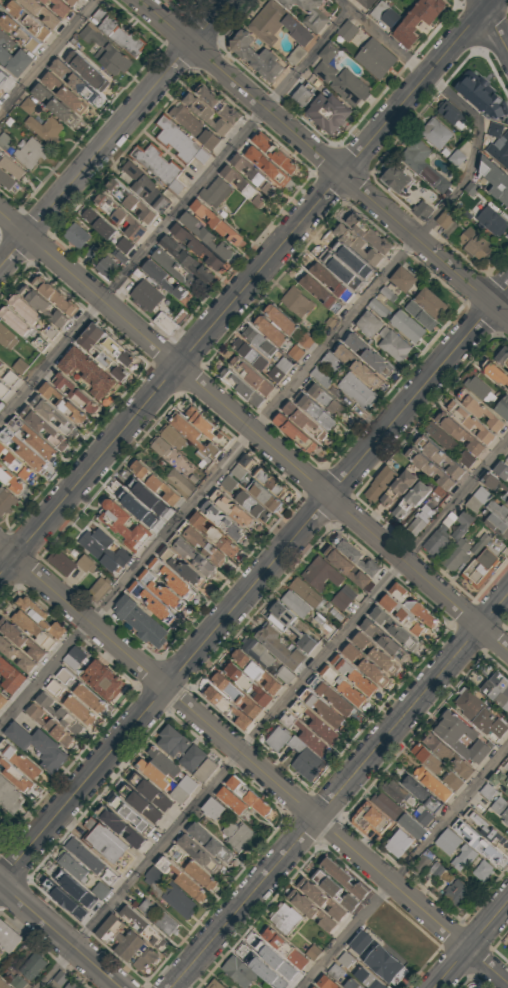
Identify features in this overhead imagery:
building: (180, 0)
building: (181, 0)
building: (71, 2)
building: (366, 3)
building: (58, 7)
building: (309, 12)
building: (42, 13)
building: (386, 14)
building: (26, 20)
building: (419, 20)
road: (496, 23)
building: (277, 25)
building: (348, 30)
building: (17, 33)
building: (117, 33)
building: (6, 41)
building: (104, 51)
building: (297, 54)
road: (49, 57)
building: (254, 58)
building: (376, 58)
building: (15, 61)
road: (410, 61)
building: (86, 71)
building: (339, 78)
building: (73, 81)
building: (63, 93)
building: (302, 96)
building: (480, 96)
building: (53, 104)
building: (217, 104)
building: (29, 105)
building: (328, 112)
building: (205, 114)
building: (452, 115)
building: (45, 127)
building: (193, 127)
building: (436, 133)
road: (115, 134)
building: (499, 135)
building: (178, 142)
building: (31, 152)
building: (274, 153)
building: (458, 157)
road: (324, 158)
building: (422, 165)
building: (266, 166)
building: (158, 167)
building: (132, 170)
building: (8, 172)
building: (253, 175)
building: (395, 179)
building: (494, 180)
building: (242, 187)
building: (214, 192)
building: (151, 194)
building: (129, 200)
building: (421, 210)
road: (174, 215)
building: (119, 217)
building: (493, 220)
building: (98, 222)
building: (215, 222)
building: (446, 222)
building: (370, 233)
building: (77, 235)
building: (203, 235)
building: (359, 244)
building: (473, 244)
building: (125, 245)
building: (197, 247)
building: (335, 251)
building: (185, 260)
building: (107, 266)
building: (174, 268)
building: (160, 279)
building: (401, 279)
building: (355, 280)
building: (332, 281)
road: (245, 288)
building: (322, 293)
building: (388, 293)
building: (53, 296)
building: (145, 296)
building: (298, 301)
building: (430, 303)
building: (42, 306)
building: (380, 306)
building: (25, 308)
building: (421, 315)
building: (281, 319)
building: (17, 321)
building: (164, 322)
building: (408, 326)
building: (271, 330)
building: (383, 336)
building: (7, 337)
building: (259, 340)
building: (306, 340)
building: (109, 344)
building: (250, 353)
building: (368, 355)
building: (103, 358)
building: (502, 359)
building: (330, 363)
building: (1, 364)
building: (21, 366)
building: (357, 366)
building: (281, 368)
building: (87, 373)
building: (494, 373)
building: (252, 374)
building: (320, 377)
building: (8, 382)
building: (242, 386)
building: (355, 390)
building: (479, 390)
building: (75, 394)
building: (321, 396)
building: (63, 405)
building: (502, 408)
building: (313, 410)
building: (478, 410)
building: (51, 414)
building: (303, 421)
building: (468, 422)
building: (205, 427)
building: (43, 428)
road: (255, 431)
building: (457, 432)
road: (253, 433)
building: (293, 433)
building: (193, 436)
building: (174, 437)
building: (32, 439)
building: (161, 445)
building: (22, 450)
building: (438, 456)
building: (507, 459)
building: (15, 464)
building: (244, 468)
building: (428, 469)
building: (501, 471)
building: (10, 481)
building: (154, 483)
building: (178, 483)
building: (269, 483)
building: (379, 484)
building: (496, 486)
building: (397, 489)
building: (149, 496)
building: (262, 496)
building: (411, 499)
building: (5, 502)
building: (136, 505)
building: (230, 510)
building: (498, 511)
building: (421, 520)
building: (220, 521)
building: (122, 526)
building: (215, 533)
building: (203, 543)
building: (459, 543)
building: (435, 544)
building: (105, 548)
building: (193, 554)
building: (355, 557)
building: (61, 563)
building: (86, 563)
building: (349, 567)
building: (482, 567)
building: (320, 574)
building: (166, 581)
road: (254, 586)
building: (99, 590)
building: (343, 598)
building: (151, 600)
building: (296, 612)
building: (405, 617)
building: (140, 621)
building: (30, 634)
building: (280, 647)
building: (72, 660)
building: (9, 677)
building: (60, 681)
building: (103, 681)
building: (243, 688)
building: (497, 690)
building: (341, 696)
building: (91, 698)
building: (1, 701)
building: (60, 712)
building: (81, 713)
road: (274, 714)
building: (482, 715)
building: (287, 720)
building: (50, 726)
building: (459, 738)
building: (171, 740)
building: (38, 746)
building: (439, 747)
building: (191, 757)
building: (428, 757)
road: (252, 766)
building: (160, 767)
building: (462, 768)
building: (205, 770)
building: (14, 776)
building: (454, 780)
building: (503, 780)
building: (433, 784)
building: (183, 789)
road: (341, 790)
building: (152, 791)
building: (393, 791)
building: (486, 791)
building: (422, 793)
building: (235, 794)
building: (8, 796)
building: (248, 796)
building: (388, 805)
building: (146, 807)
building: (501, 808)
building: (212, 809)
building: (132, 816)
building: (371, 823)
building: (415, 824)
building: (0, 825)
building: (120, 826)
building: (488, 828)
building: (2, 832)
building: (239, 835)
building: (106, 840)
building: (476, 841)
building: (400, 842)
building: (448, 842)
building: (210, 844)
building: (198, 854)
building: (462, 858)
building: (423, 862)
building: (157, 869)
road: (406, 870)
building: (482, 871)
building: (201, 876)
building: (76, 879)
building: (184, 879)
building: (343, 879)
building: (101, 890)
building: (454, 890)
building: (335, 891)
building: (179, 900)
building: (322, 901)
building: (147, 908)
building: (284, 919)
building: (167, 923)
building: (328, 923)
building: (143, 928)
road: (61, 934)
building: (8, 937)
building: (132, 942)
building: (361, 944)
road: (472, 945)
building: (290, 949)
building: (507, 949)
building: (0, 950)
building: (122, 951)
building: (0, 954)
building: (344, 960)
building: (276, 963)
building: (32, 965)
building: (383, 965)
building: (237, 971)
building: (337, 971)
building: (269, 977)
building: (367, 979)
building: (20, 980)
building: (57, 981)
building: (325, 983)
building: (354, 983)
building: (214, 984)
building: (2, 985)
building: (72, 985)
building: (316, 987)
building: (477, 987)

